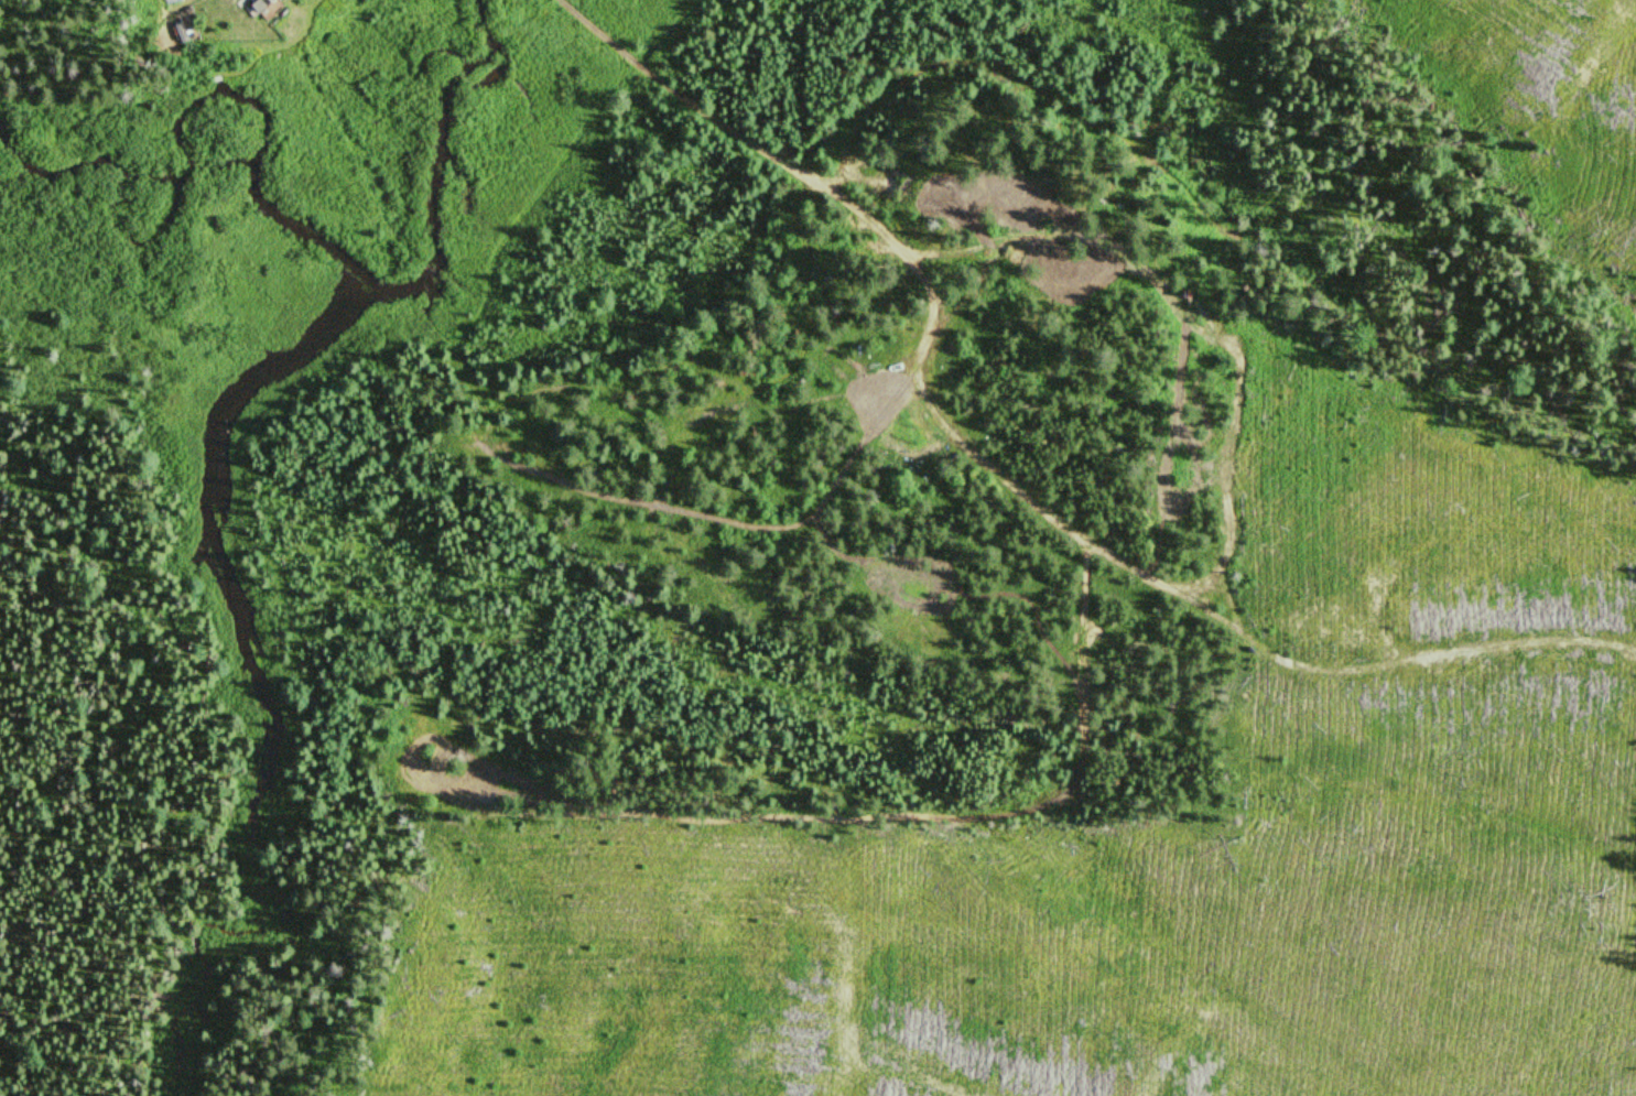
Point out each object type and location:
building: (261, 8)
road: (737, 127)
river: (461, 152)
river: (174, 187)
road: (1194, 317)
road: (1141, 569)
road: (1584, 639)
road: (1077, 666)

